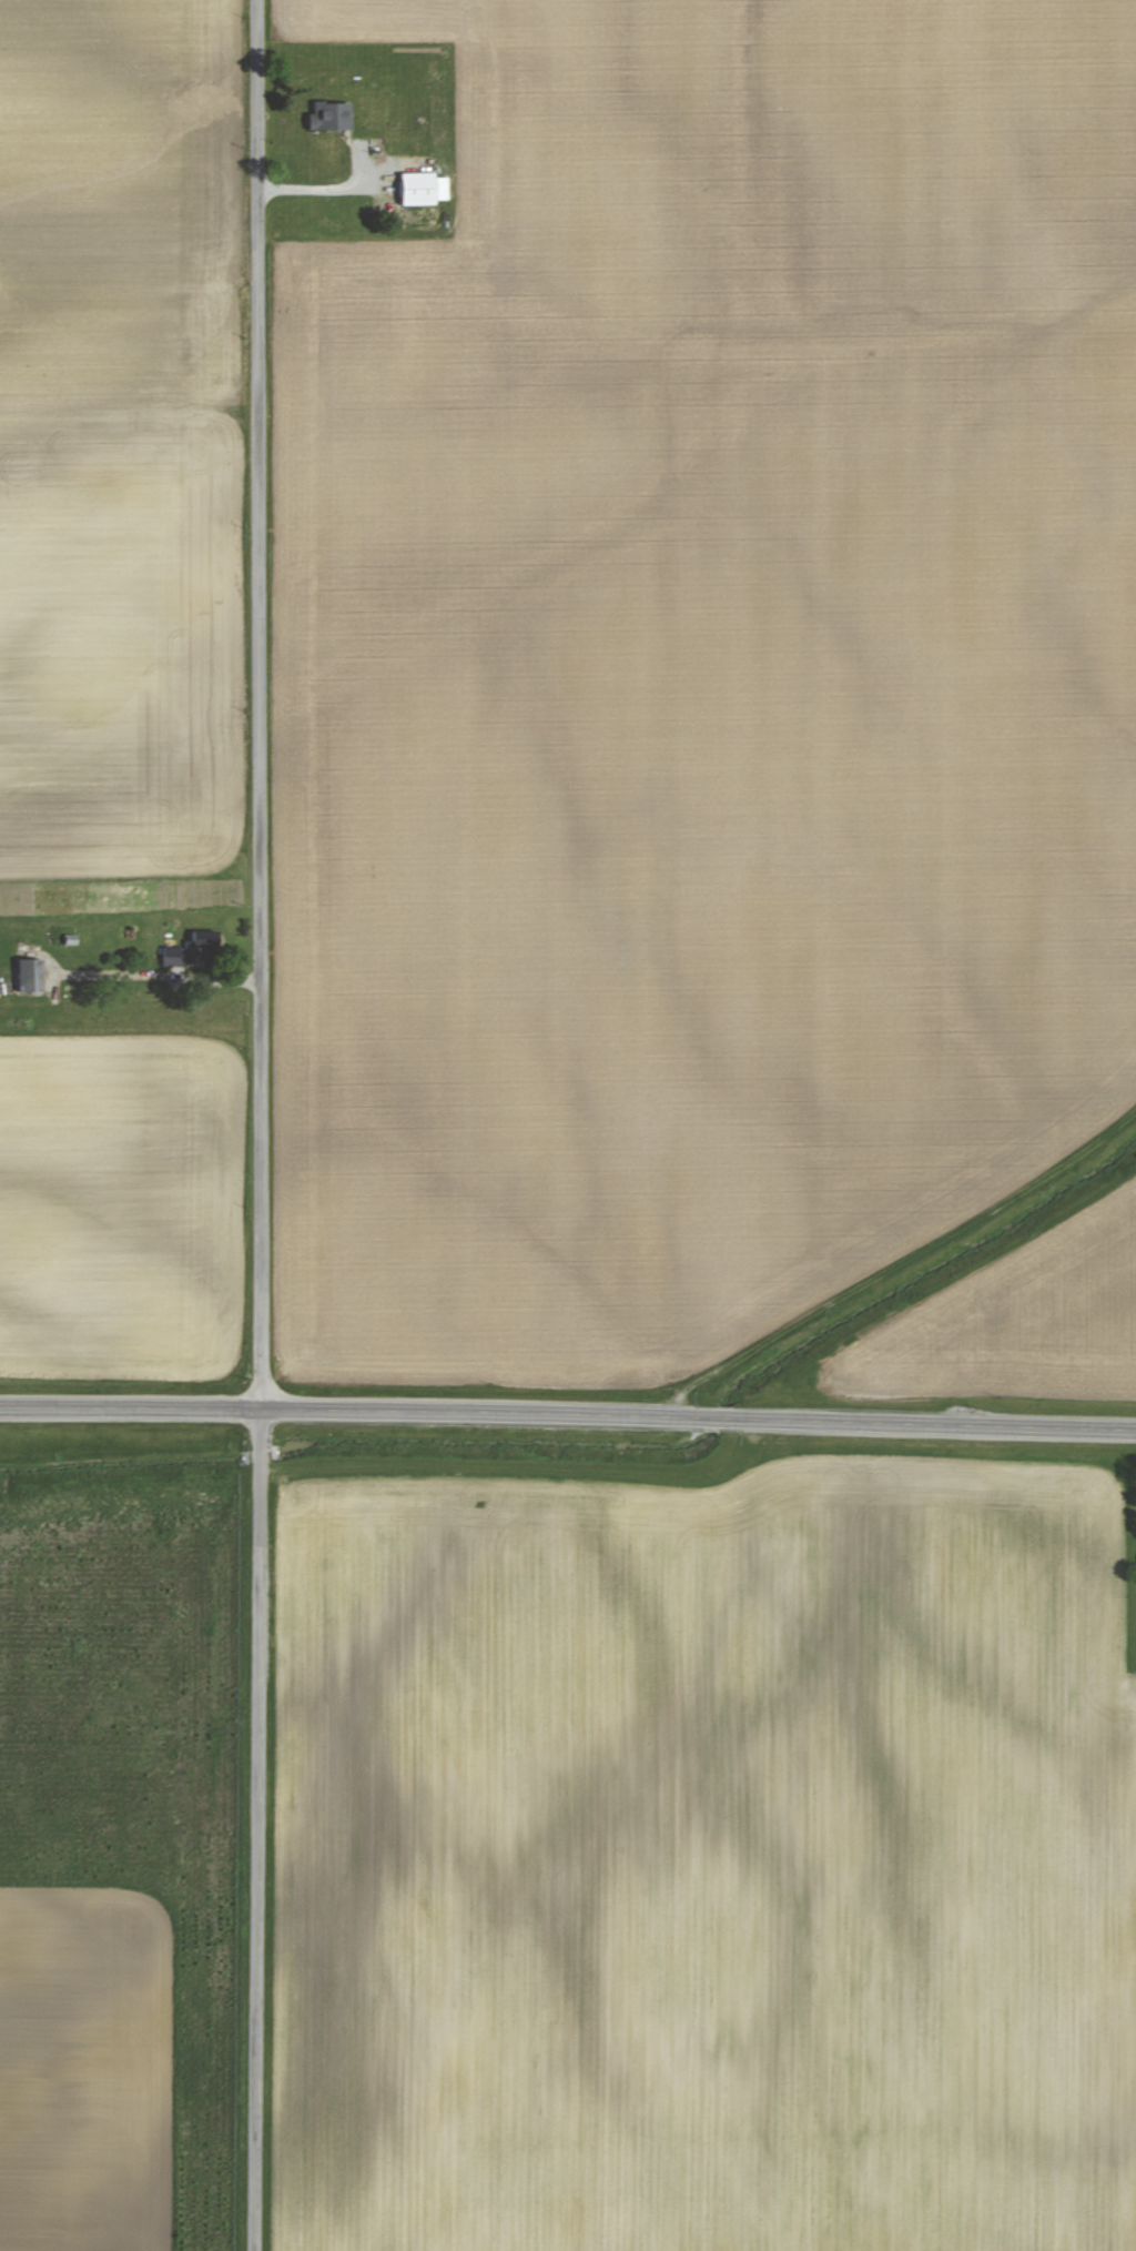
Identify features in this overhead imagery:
building: (327, 114)
building: (416, 188)
road: (257, 705)
building: (191, 950)
building: (28, 975)
road: (130, 1409)
road: (699, 1420)
road: (260, 1829)

